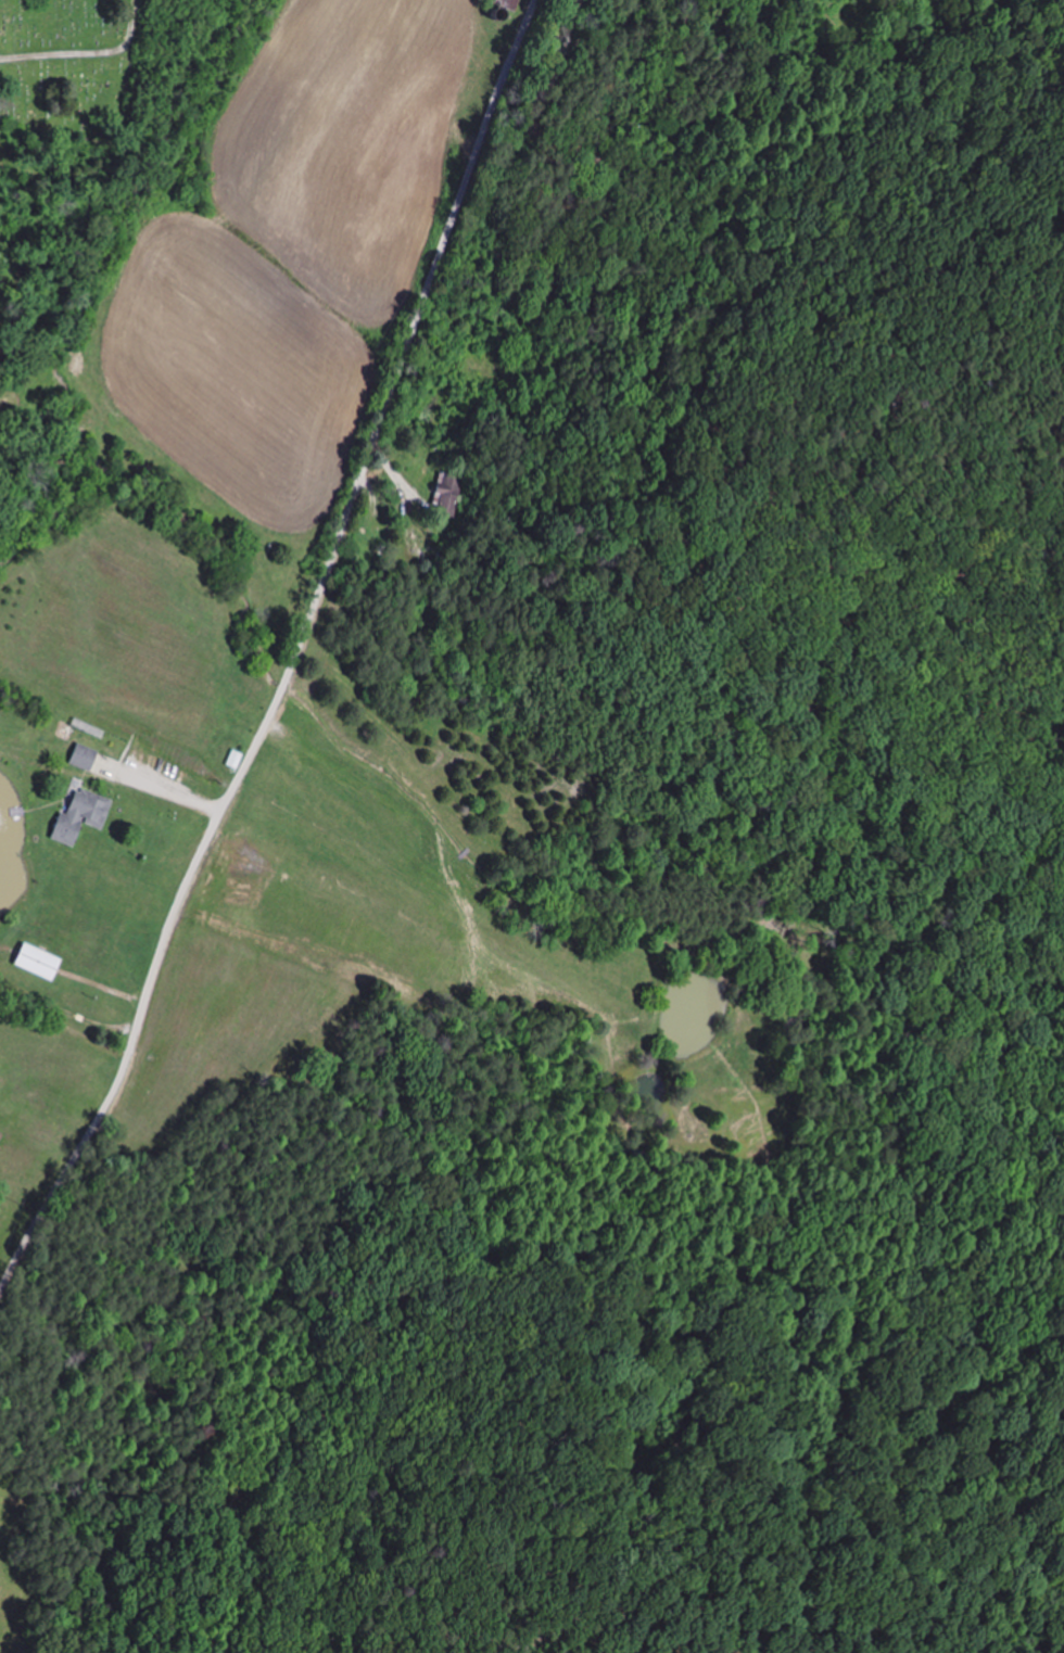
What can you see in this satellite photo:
park: (64, 63)
building: (449, 493)
road: (295, 658)
building: (80, 758)
building: (230, 762)
building: (77, 816)
building: (34, 962)

